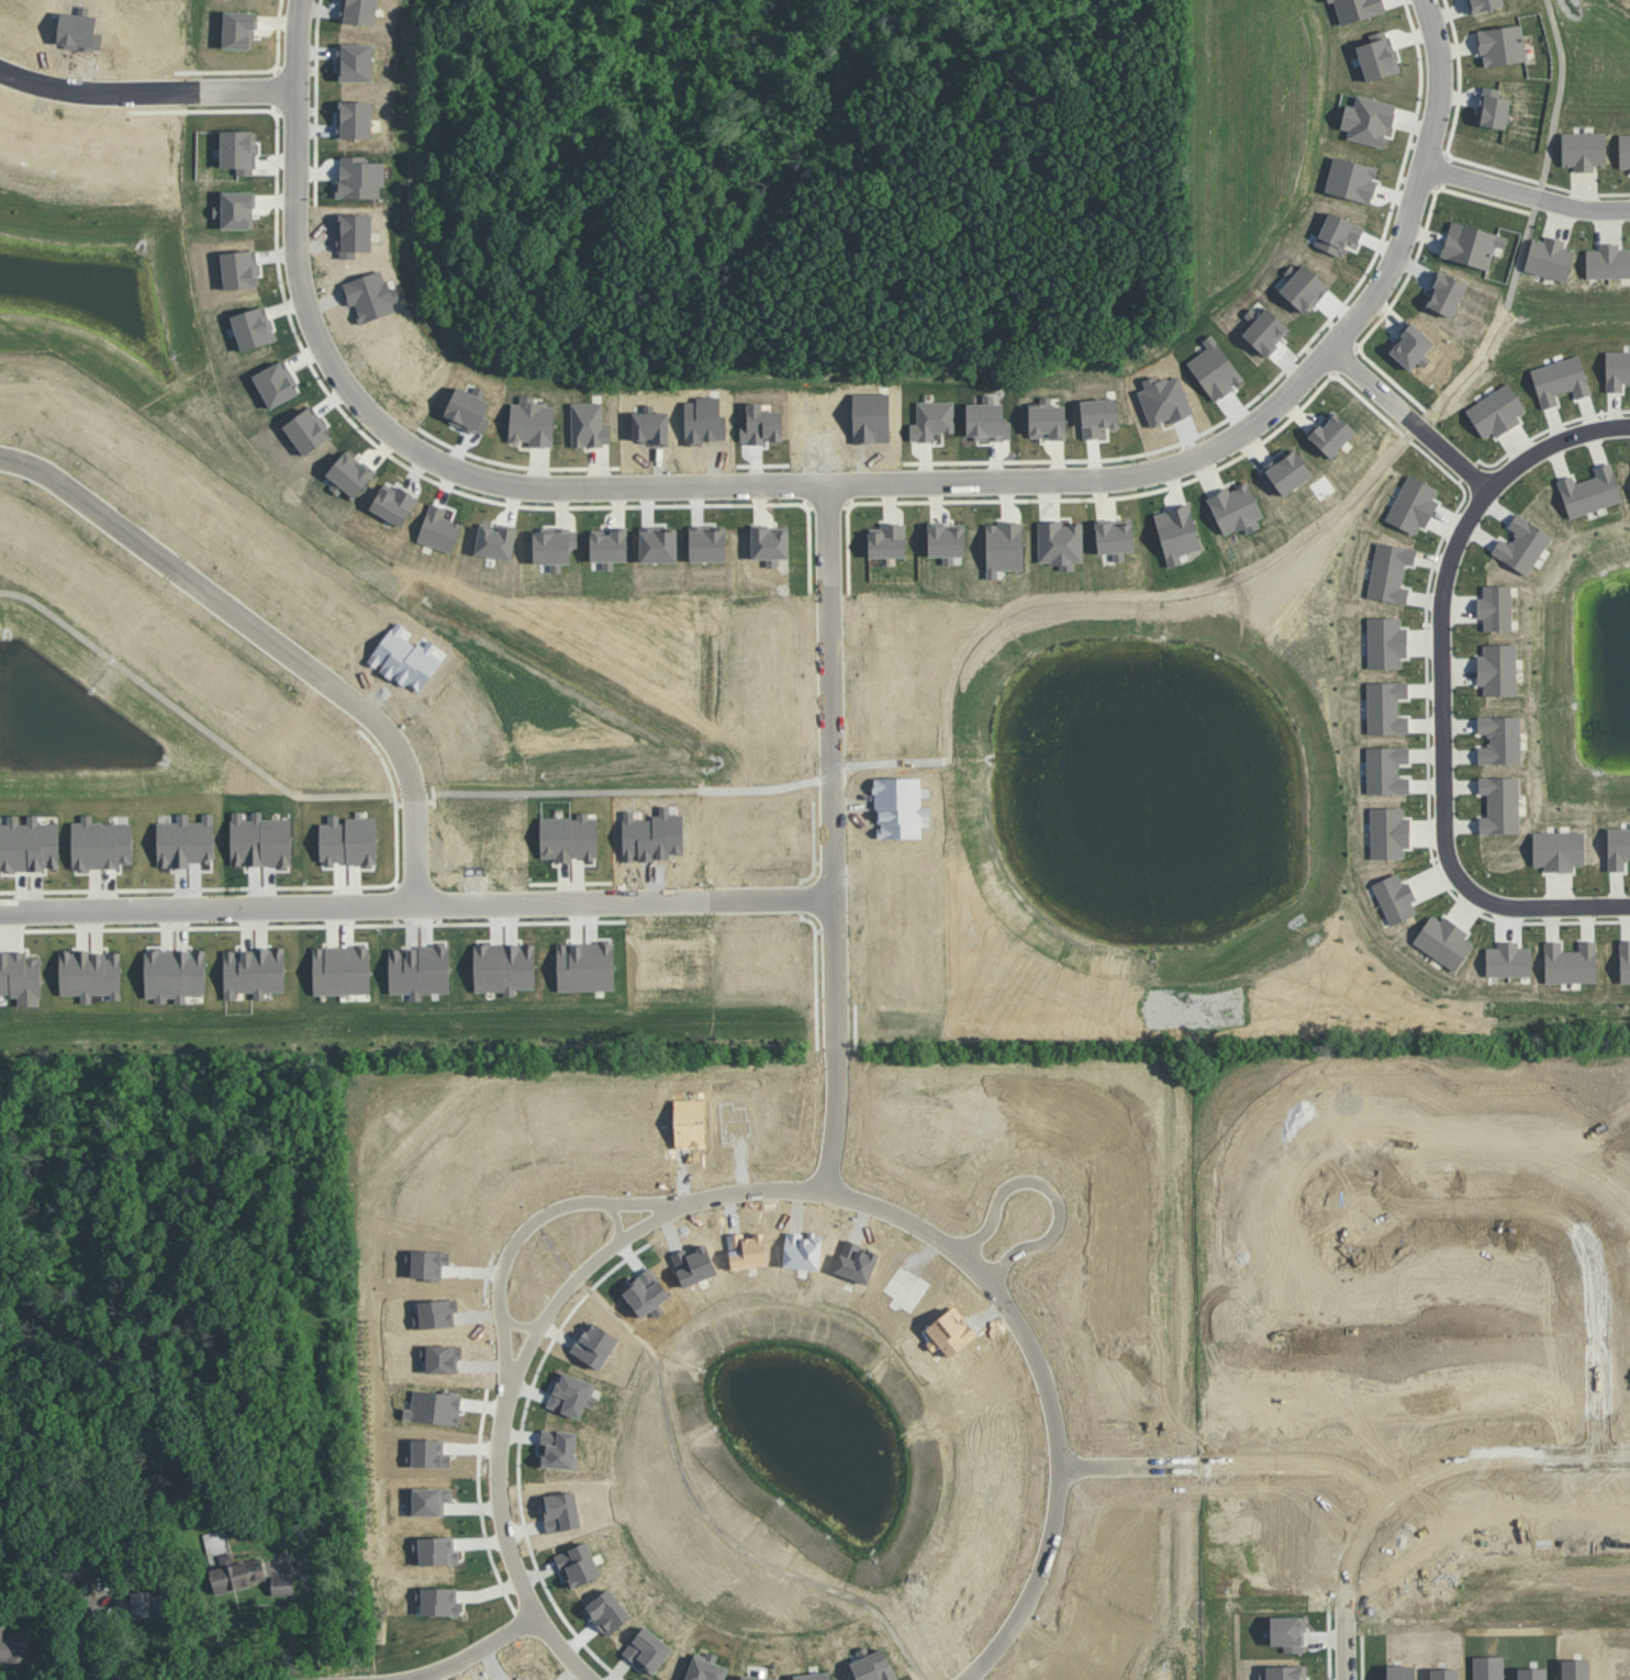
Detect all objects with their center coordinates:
building: (1484, 4)
building: (1355, 9)
building: (1501, 44)
building: (1376, 56)
road: (1439, 85)
road: (146, 97)
road: (1559, 98)
building: (1493, 108)
building: (1369, 120)
building: (1583, 149)
building: (1623, 150)
road: (1528, 194)
road: (1420, 200)
building: (1471, 244)
road: (1525, 255)
building: (1549, 257)
building: (1607, 261)
road: (1413, 419)
road: (1553, 444)
road: (721, 485)
road: (226, 603)
road: (1441, 772)
road: (842, 777)
building: (569, 837)
road: (834, 837)
road: (416, 847)
road: (772, 898)
road: (355, 903)
building: (90, 974)
building: (20, 977)
road: (777, 1185)
road: (1061, 1197)
road: (625, 1219)
road: (534, 1233)
road: (1590, 1239)
road: (525, 1326)
road: (1456, 1467)
road: (1232, 1469)
road: (712, 1512)
building: (236, 1572)
building: (282, 1584)
road: (1351, 1638)
building: (13, 1647)
road: (469, 1651)

